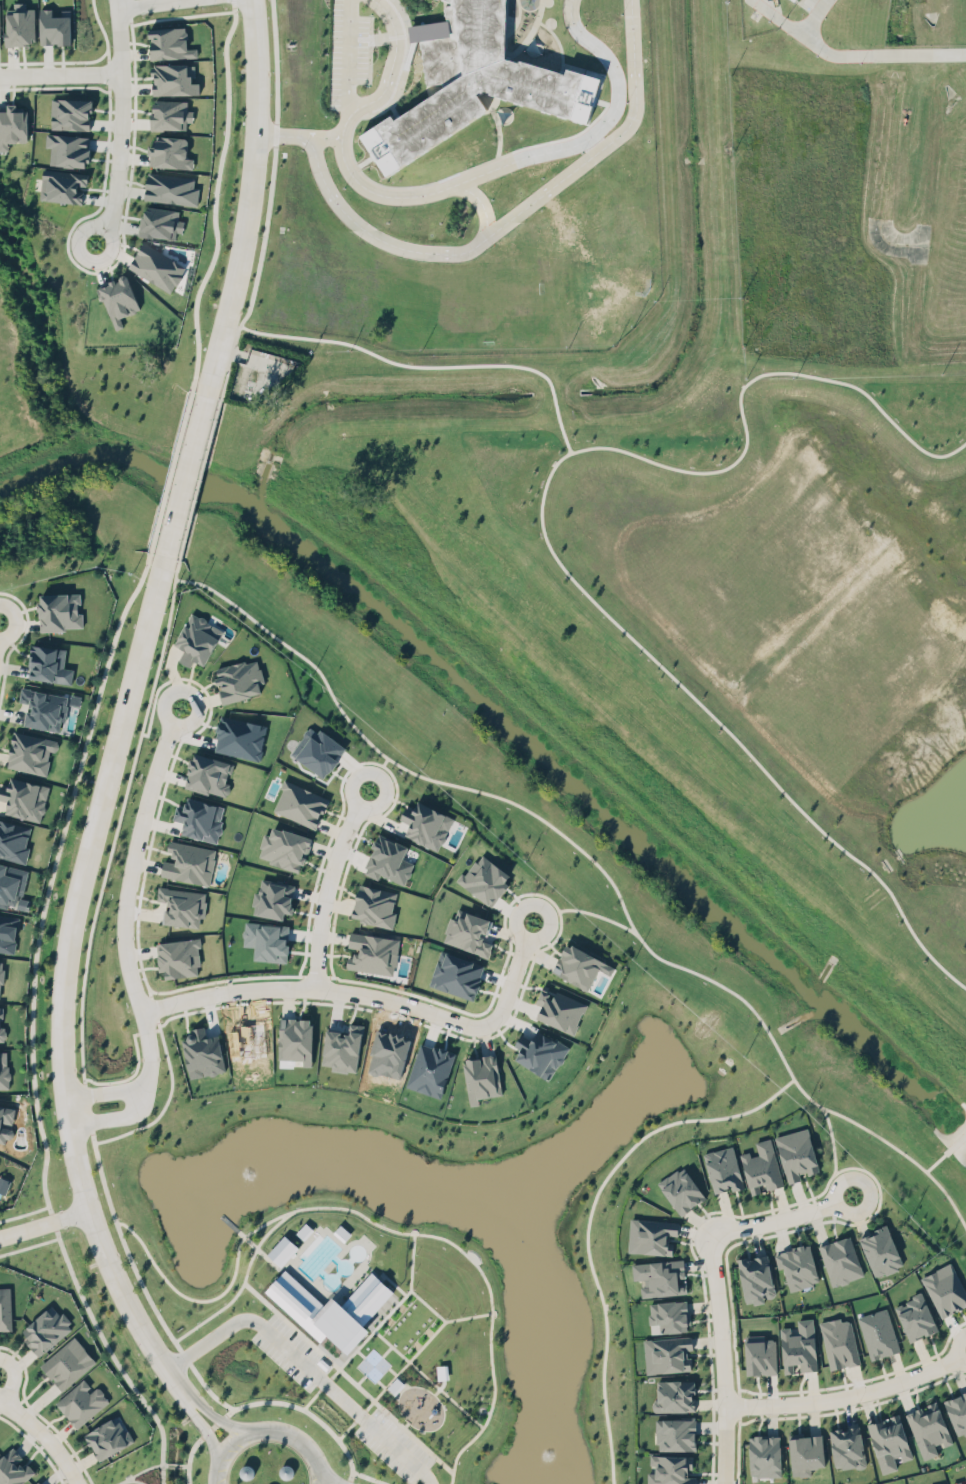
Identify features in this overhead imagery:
building: (795, 0)
road: (140, 3)
road: (231, 4)
building: (20, 24)
building: (54, 27)
building: (0, 38)
building: (169, 40)
road: (818, 48)
road: (920, 51)
road: (349, 55)
road: (60, 72)
building: (172, 75)
building: (473, 81)
building: (168, 111)
building: (71, 113)
building: (11, 123)
road: (120, 126)
road: (325, 139)
building: (68, 149)
building: (169, 152)
road: (275, 163)
building: (63, 185)
road: (442, 187)
building: (171, 188)
road: (249, 198)
road: (213, 199)
road: (480, 206)
building: (158, 219)
road: (490, 235)
building: (154, 262)
building: (118, 300)
road: (233, 361)
road: (432, 369)
road: (168, 477)
road: (182, 478)
road: (195, 489)
road: (546, 546)
building: (59, 610)
building: (196, 637)
building: (49, 663)
building: (239, 680)
road: (158, 683)
building: (43, 707)
road: (164, 725)
river: (507, 729)
building: (317, 745)
building: (31, 751)
road: (375, 766)
building: (209, 775)
building: (24, 798)
road: (345, 799)
building: (300, 803)
building: (199, 818)
building: (426, 824)
building: (13, 840)
building: (283, 844)
building: (385, 855)
building: (188, 860)
road: (337, 863)
road: (99, 872)
road: (598, 875)
building: (482, 876)
road: (47, 879)
building: (12, 881)
road: (318, 894)
building: (273, 898)
building: (179, 903)
building: (373, 904)
road: (591, 917)
building: (468, 931)
building: (8, 932)
road: (508, 934)
building: (266, 938)
road: (118, 945)
building: (372, 953)
building: (179, 957)
building: (579, 966)
building: (456, 974)
building: (1, 976)
road: (310, 979)
road: (61, 983)
road: (501, 983)
road: (309, 988)
road: (353, 1007)
road: (148, 1009)
building: (560, 1009)
building: (2, 1030)
road: (137, 1031)
building: (295, 1036)
building: (342, 1048)
building: (202, 1052)
building: (540, 1053)
building: (428, 1067)
building: (4, 1069)
building: (480, 1075)
road: (79, 1103)
road: (153, 1110)
building: (6, 1122)
road: (826, 1146)
building: (798, 1155)
building: (761, 1165)
building: (724, 1171)
road: (831, 1180)
building: (4, 1184)
building: (682, 1189)
road: (48, 1216)
road: (768, 1219)
road: (580, 1220)
road: (844, 1223)
road: (44, 1224)
park: (448, 1233)
road: (405, 1235)
building: (653, 1235)
road: (115, 1246)
building: (882, 1249)
building: (282, 1250)
road: (256, 1256)
building: (841, 1261)
road: (404, 1263)
building: (800, 1266)
building: (659, 1278)
building: (758, 1279)
building: (946, 1289)
road: (200, 1298)
road: (255, 1300)
building: (5, 1308)
building: (915, 1316)
building: (315, 1317)
road: (460, 1317)
building: (669, 1318)
building: (47, 1328)
building: (876, 1333)
building: (838, 1344)
building: (800, 1348)
road: (947, 1349)
road: (174, 1351)
road: (107, 1355)
building: (667, 1355)
road: (722, 1356)
building: (762, 1357)
building: (66, 1360)
road: (402, 1362)
road: (943, 1362)
road: (306, 1363)
road: (13, 1378)
road: (200, 1391)
road: (430, 1392)
road: (439, 1395)
building: (675, 1397)
road: (832, 1397)
parking lot: (342, 1398)
building: (81, 1402)
road: (732, 1407)
road: (823, 1411)
road: (309, 1412)
building: (956, 1414)
road: (214, 1415)
road: (200, 1424)
road: (213, 1424)
building: (930, 1428)
building: (675, 1435)
road: (45, 1436)
road: (294, 1436)
building: (109, 1437)
building: (889, 1439)
road: (367, 1443)
building: (850, 1448)
road: (225, 1450)
building: (810, 1455)
building: (765, 1458)
road: (191, 1461)
road: (148, 1466)
building: (13, 1468)
building: (672, 1470)
road: (319, 1475)
road: (328, 1476)
road: (368, 1477)
road: (130, 1480)
road: (349, 1481)
building: (959, 1481)
building: (38, 1482)
building: (943, 1483)

